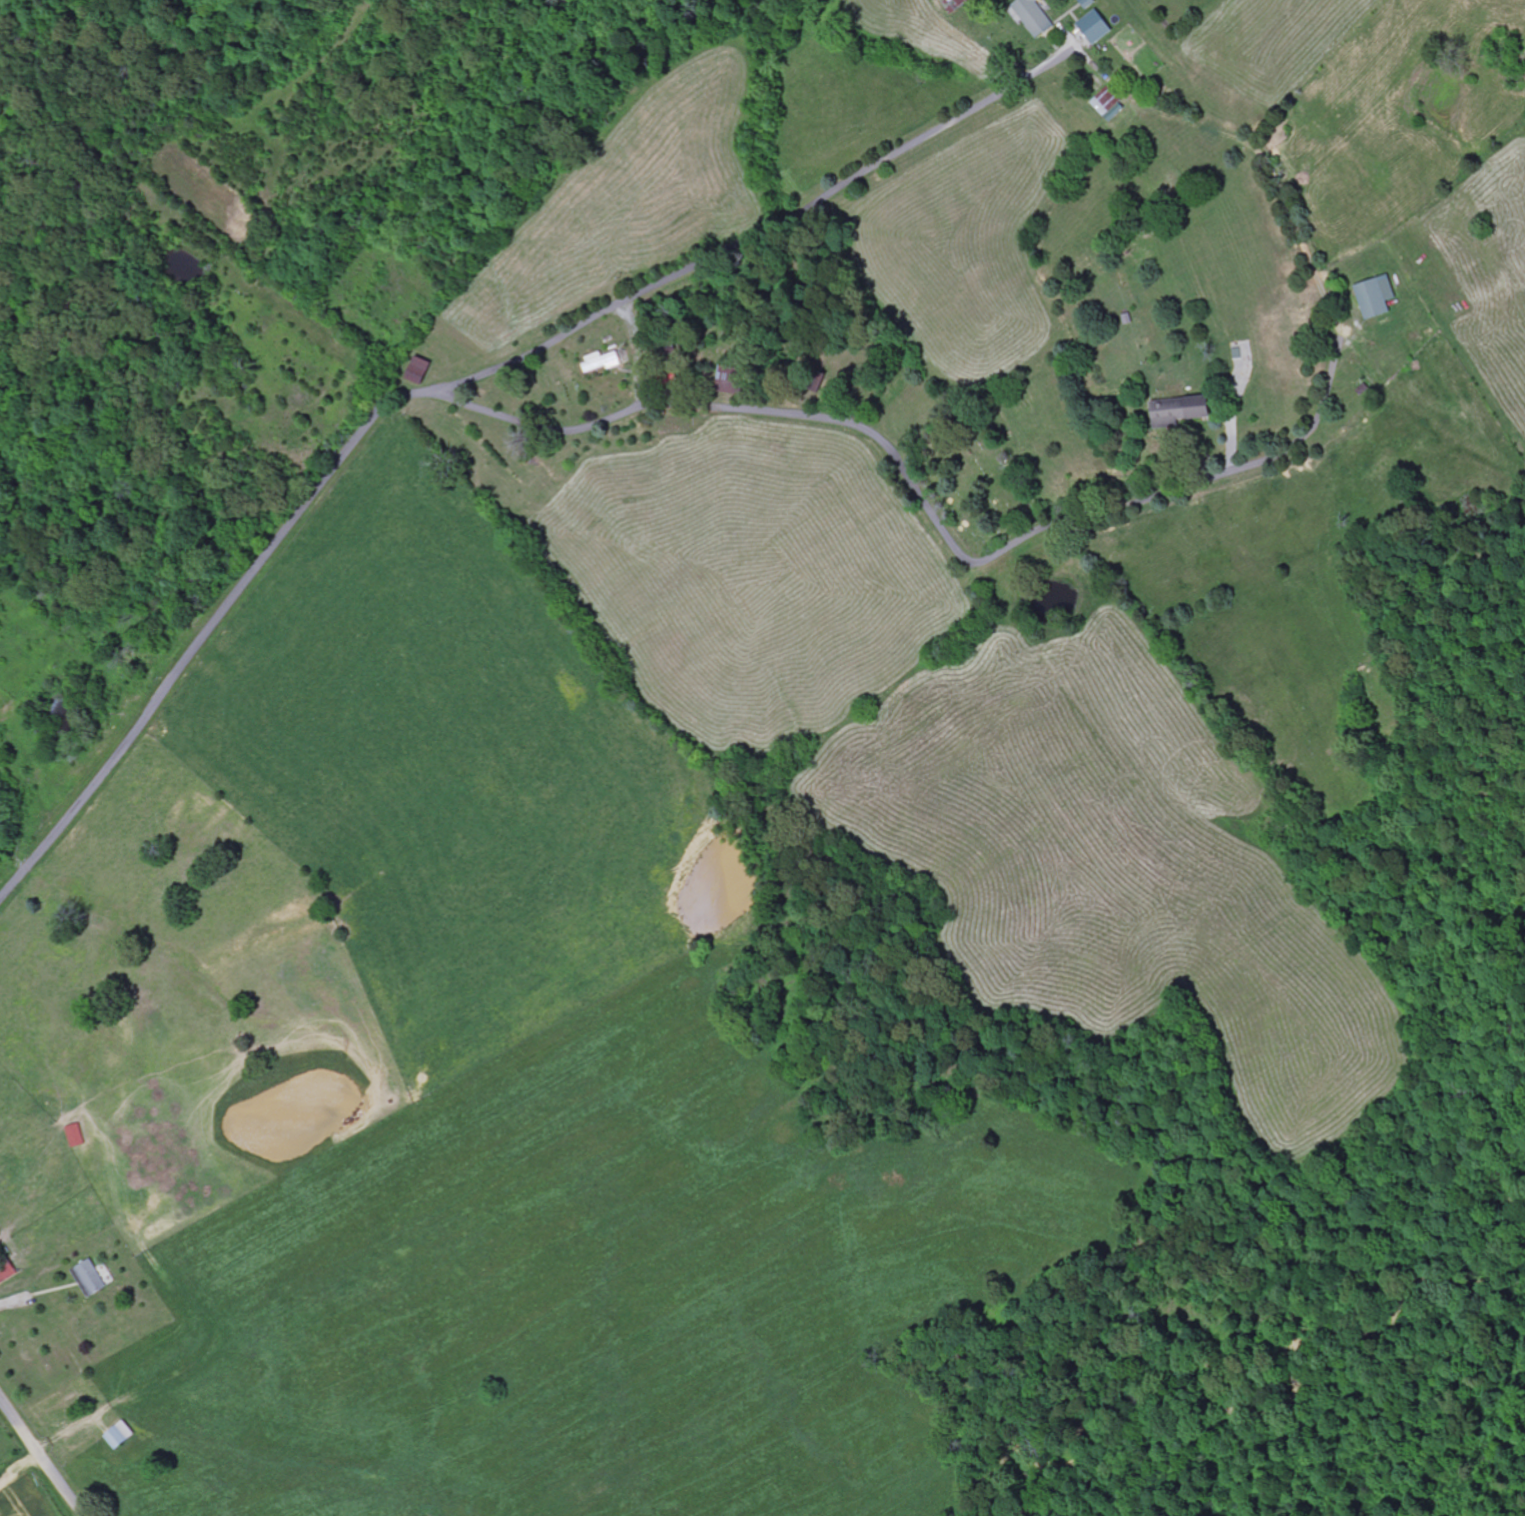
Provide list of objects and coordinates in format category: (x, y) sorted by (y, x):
building: (1090, 3)
building: (959, 4)
building: (1036, 16)
building: (1097, 27)
building: (1110, 102)
road: (763, 235)
building: (1378, 296)
building: (599, 363)
building: (422, 371)
building: (1184, 410)
road: (626, 412)
park: (981, 477)
building: (77, 1136)
building: (92, 1278)
building: (1, 1282)
building: (123, 1436)
road: (42, 1457)

